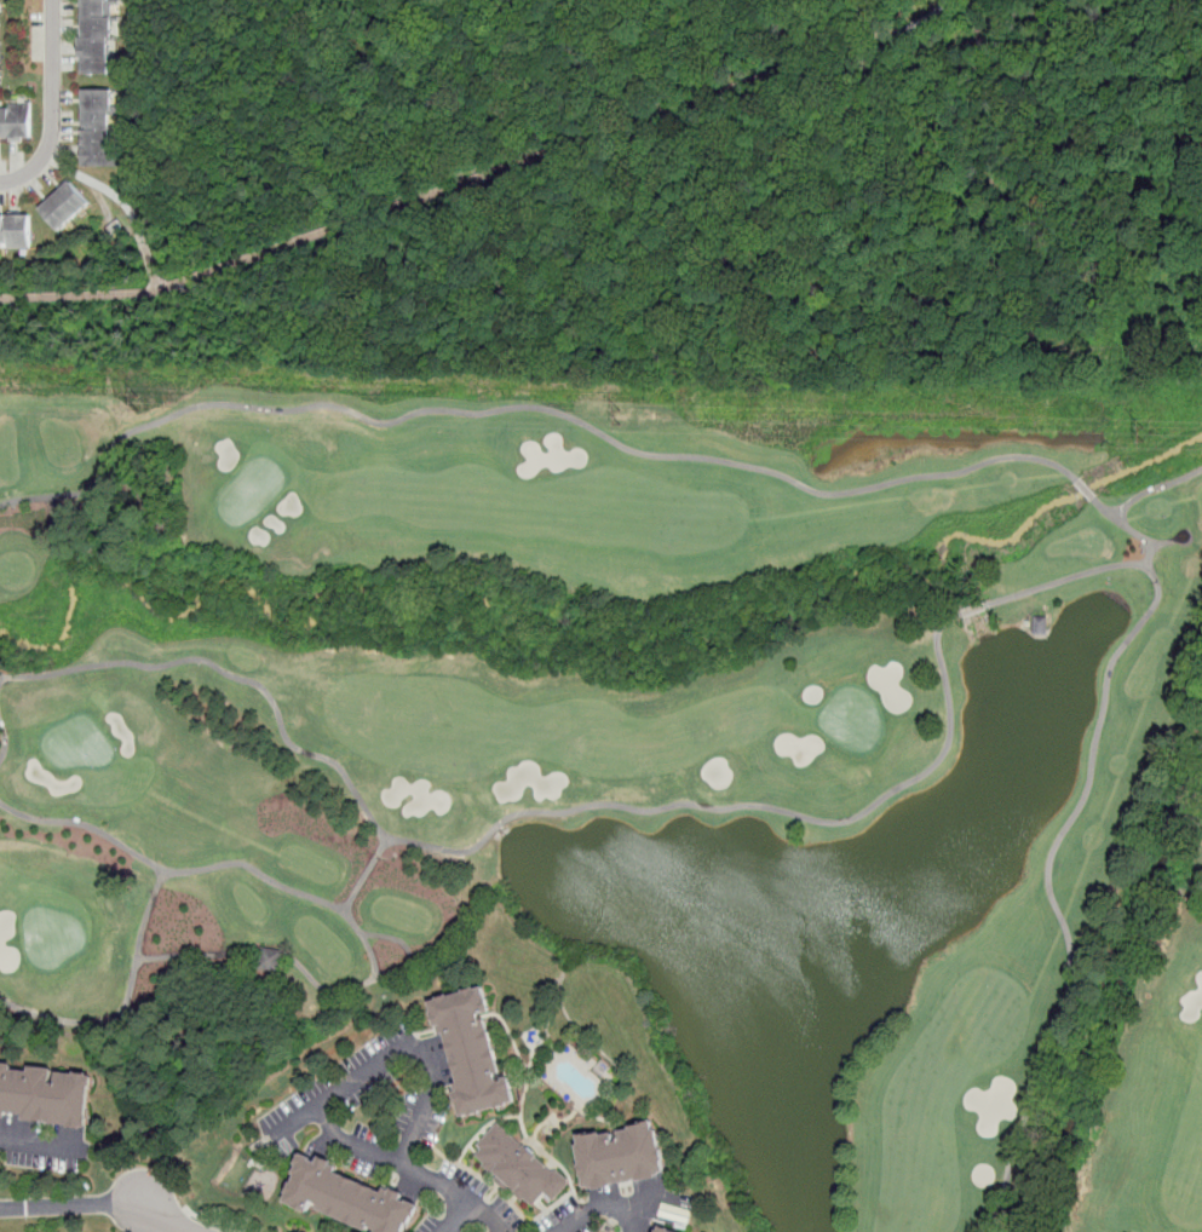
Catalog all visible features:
road: (926, 17)
building: (102, 35)
road: (52, 104)
building: (19, 121)
building: (107, 128)
road: (97, 184)
road: (455, 184)
building: (75, 205)
building: (22, 229)
road: (150, 255)
power tower: (139, 402)
road: (528, 407)
power tower: (621, 418)
power tower: (1145, 431)
road: (1105, 508)
road: (1066, 577)
building: (1040, 624)
road: (5, 732)
park: (637, 741)
road: (511, 818)
road: (1071, 819)
road: (86, 825)
road: (364, 873)
building: (270, 960)
road: (378, 973)
river: (1115, 983)
road: (125, 1002)
road: (398, 1048)
building: (482, 1050)
building: (48, 1089)
building: (266, 1141)
road: (386, 1155)
building: (631, 1156)
building: (529, 1167)
building: (358, 1197)
road: (609, 1203)
road: (70, 1204)
road: (453, 1216)
road: (484, 1216)
road: (169, 1219)
road: (212, 1221)
building: (666, 1230)

